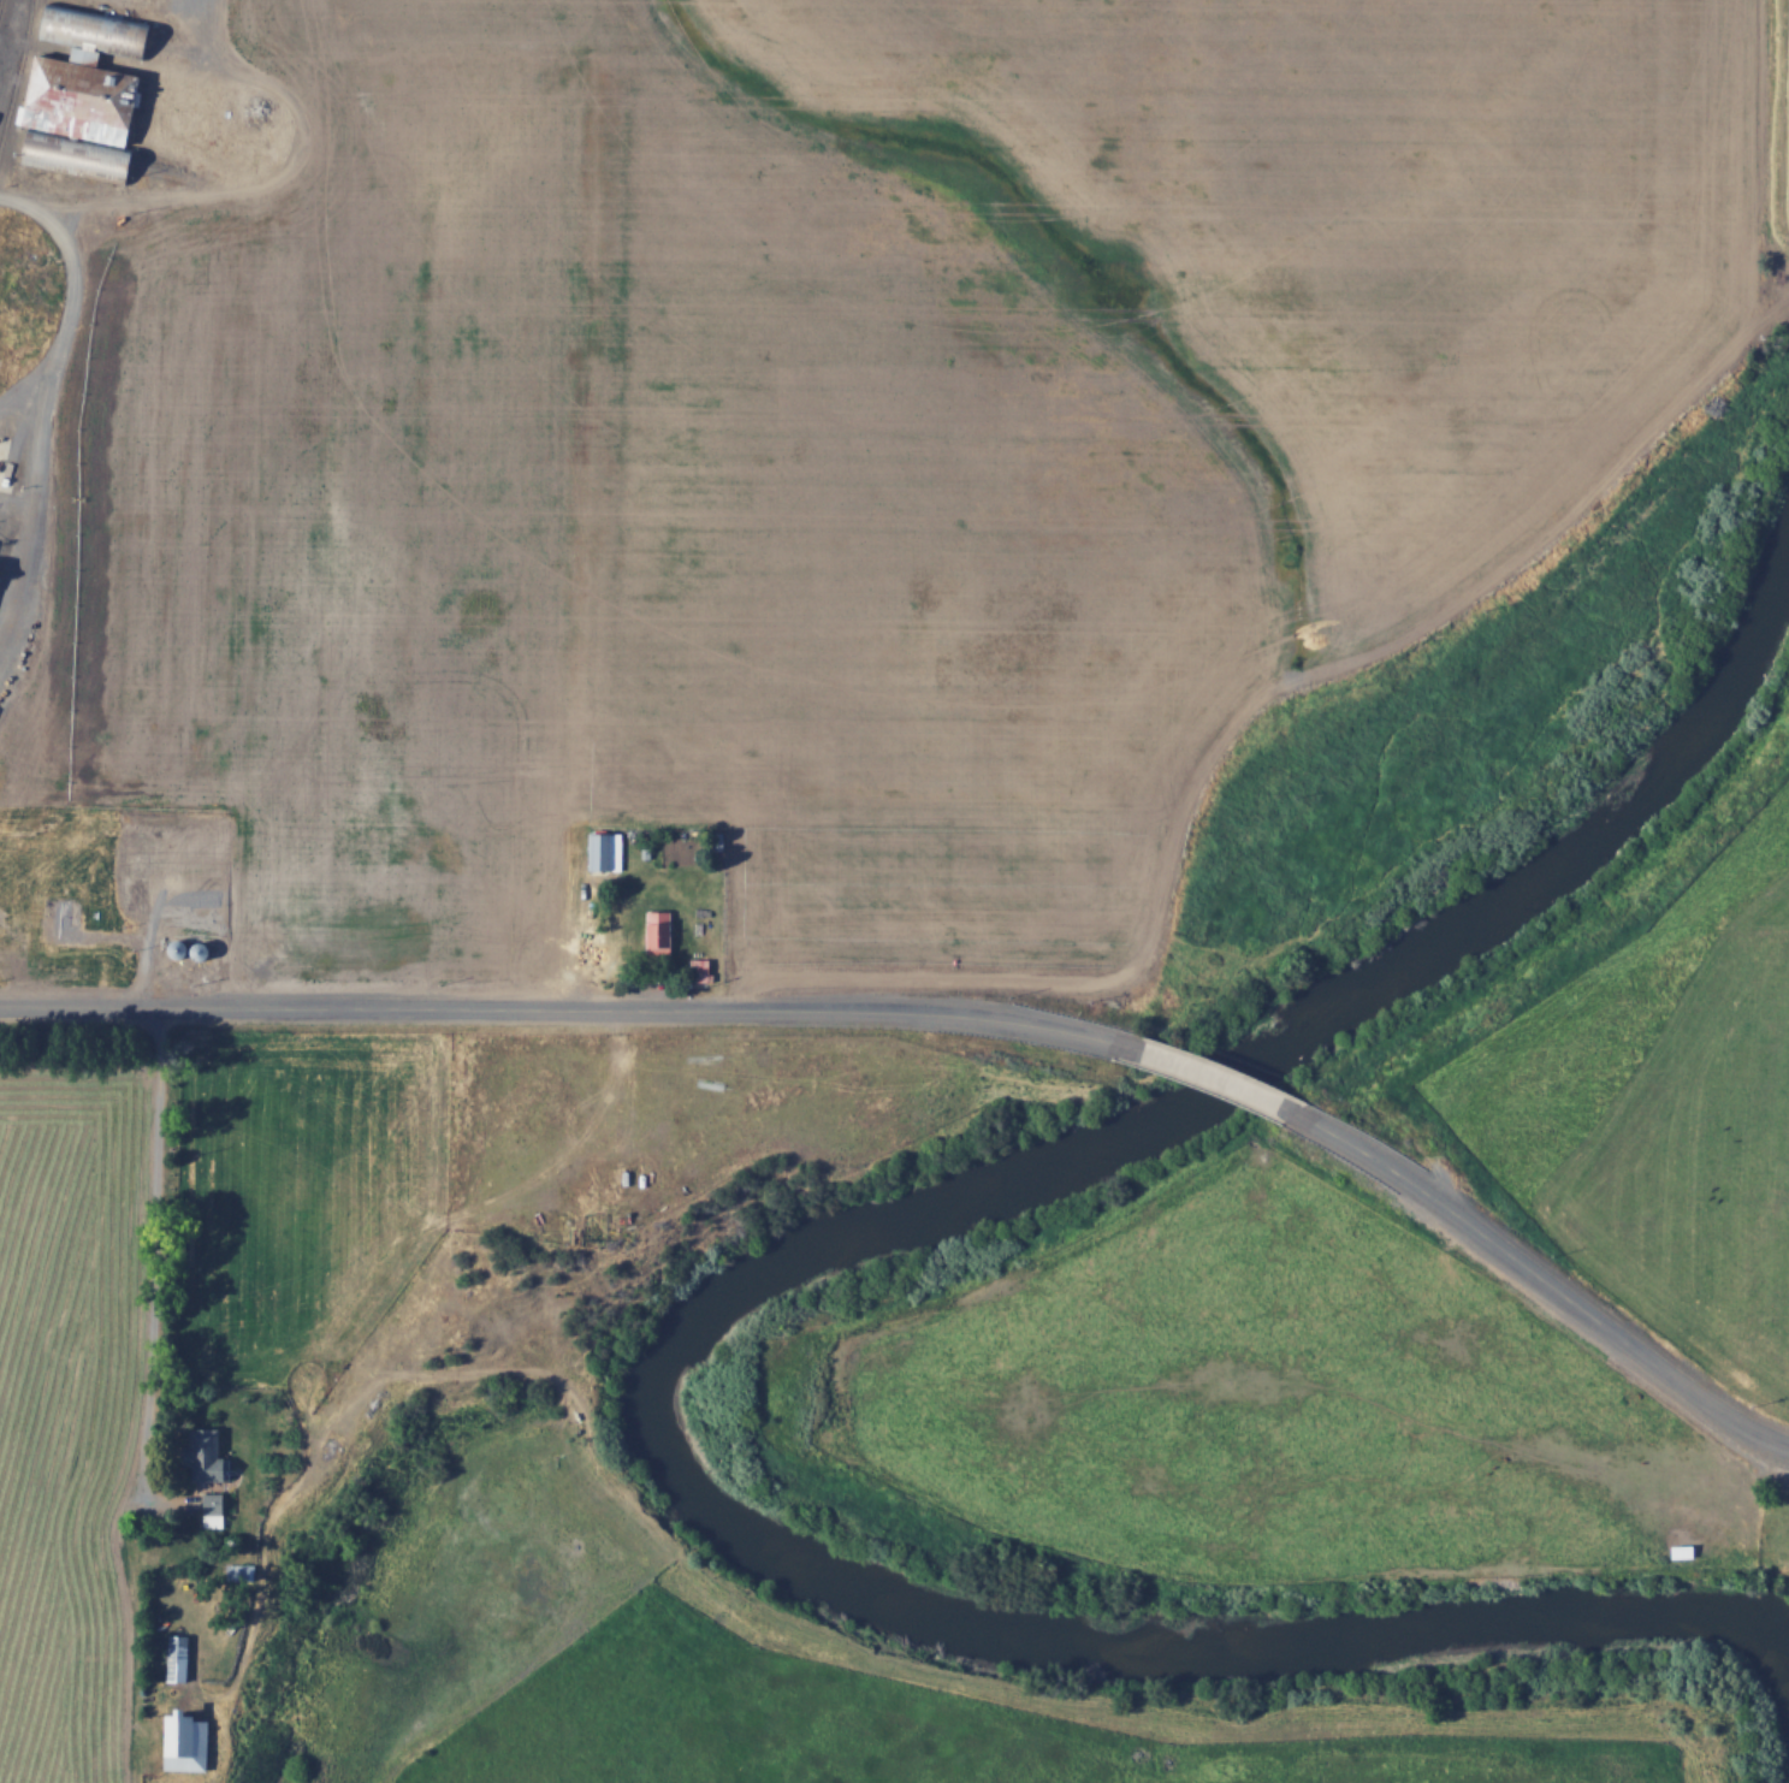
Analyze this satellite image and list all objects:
railway: (0, 0)
building: (100, 29)
railway: (17, 72)
building: (142, 107)
crop: (1775, 161)
crop: (1367, 225)
road: (64, 409)
crop: (351, 505)
crop: (898, 537)
building: (1, 549)
building: (0, 569)
building: (603, 852)
building: (174, 857)
building: (188, 898)
building: (70, 916)
building: (654, 932)
building: (697, 971)
road: (574, 1011)
road: (1221, 1080)
crop: (686, 1121)
crop: (300, 1192)
road: (1538, 1285)
river: (717, 1319)
crop: (1279, 1398)
crop: (72, 1422)
building: (212, 1456)
building: (215, 1509)
building: (1676, 1551)
building: (182, 1658)
building: (192, 1740)

